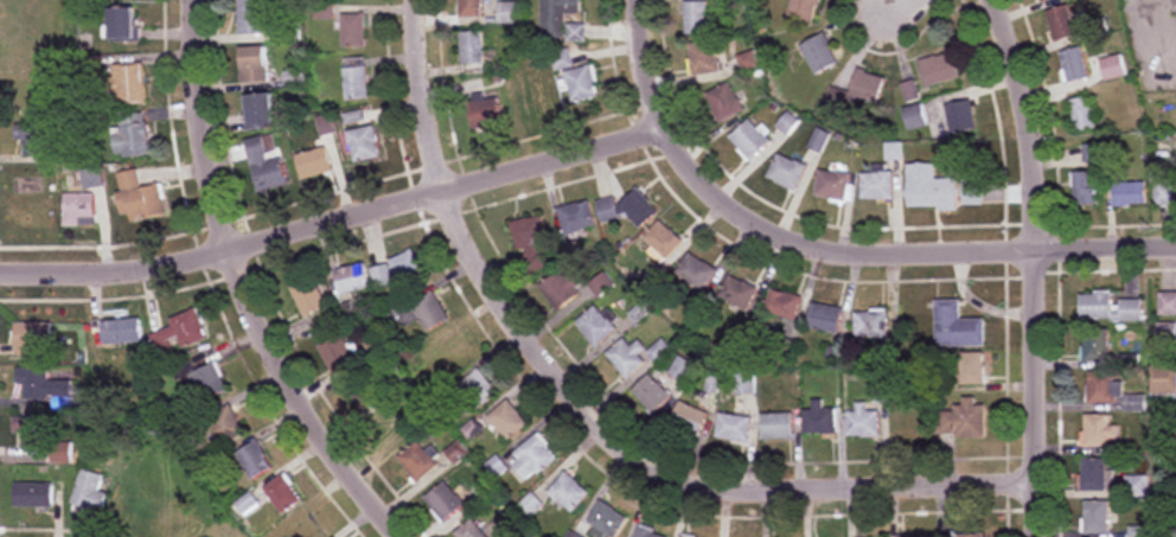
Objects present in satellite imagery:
building: (1043, 0)
building: (1175, 2)
road: (891, 5)
building: (471, 8)
building: (803, 9)
building: (509, 13)
building: (31, 14)
building: (250, 17)
building: (696, 18)
building: (561, 20)
building: (1061, 23)
building: (121, 24)
building: (352, 30)
building: (472, 52)
building: (818, 53)
building: (704, 57)
building: (748, 60)
building: (253, 64)
building: (1074, 65)
building: (1113, 68)
building: (939, 69)
building: (577, 77)
building: (356, 82)
building: (128, 84)
building: (909, 91)
building: (863, 92)
building: (31, 98)
building: (724, 102)
building: (260, 110)
building: (485, 111)
building: (1082, 114)
building: (960, 116)
building: (914, 117)
building: (130, 136)
building: (32, 139)
building: (749, 139)
building: (363, 143)
building: (1093, 153)
building: (313, 162)
building: (264, 166)
building: (786, 172)
building: (91, 178)
building: (832, 186)
building: (876, 186)
building: (929, 188)
building: (1085, 188)
building: (972, 192)
building: (1165, 193)
building: (1130, 194)
building: (139, 198)
building: (77, 210)
building: (626, 210)
building: (576, 218)
road: (337, 224)
road: (765, 228)
building: (530, 236)
building: (663, 239)
road: (1105, 252)
road: (1034, 266)
building: (407, 270)
building: (697, 271)
building: (382, 275)
building: (352, 279)
road: (250, 283)
building: (562, 289)
building: (737, 292)
building: (307, 298)
building: (1168, 303)
building: (782, 305)
building: (1110, 308)
building: (429, 312)
building: (824, 318)
building: (870, 325)
building: (596, 326)
building: (957, 327)
building: (120, 332)
building: (179, 333)
building: (30, 338)
building: (1095, 345)
building: (337, 354)
building: (635, 356)
building: (448, 357)
building: (682, 369)
building: (970, 369)
building: (203, 381)
building: (1164, 382)
building: (44, 388)
building: (1102, 388)
building: (365, 390)
building: (474, 392)
building: (651, 394)
building: (689, 418)
building: (819, 420)
building: (507, 421)
building: (963, 421)
road: (593, 422)
building: (391, 423)
building: (862, 423)
building: (225, 426)
building: (776, 426)
building: (734, 428)
building: (908, 428)
building: (1099, 431)
building: (30, 433)
building: (60, 453)
building: (533, 458)
building: (254, 460)
building: (417, 461)
building: (496, 468)
building: (1094, 474)
building: (1137, 486)
building: (569, 492)
building: (90, 493)
building: (282, 493)
building: (32, 496)
building: (443, 501)
building: (531, 505)
building: (133, 512)
building: (1095, 517)
building: (171, 519)
building: (608, 519)
building: (305, 526)
building: (469, 530)
building: (648, 532)
building: (575, 535)
building: (971, 535)
building: (684, 536)
building: (912, 536)

